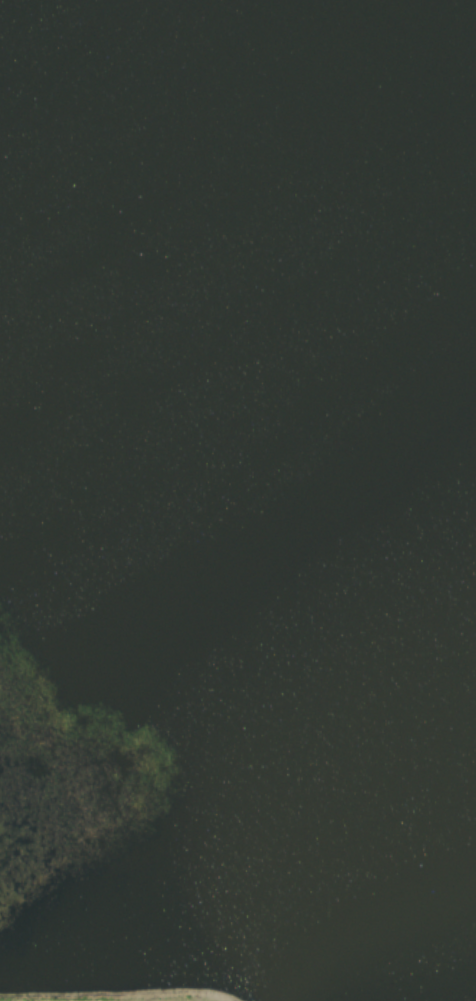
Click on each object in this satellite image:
river: (336, 746)
dam: (130, 995)

